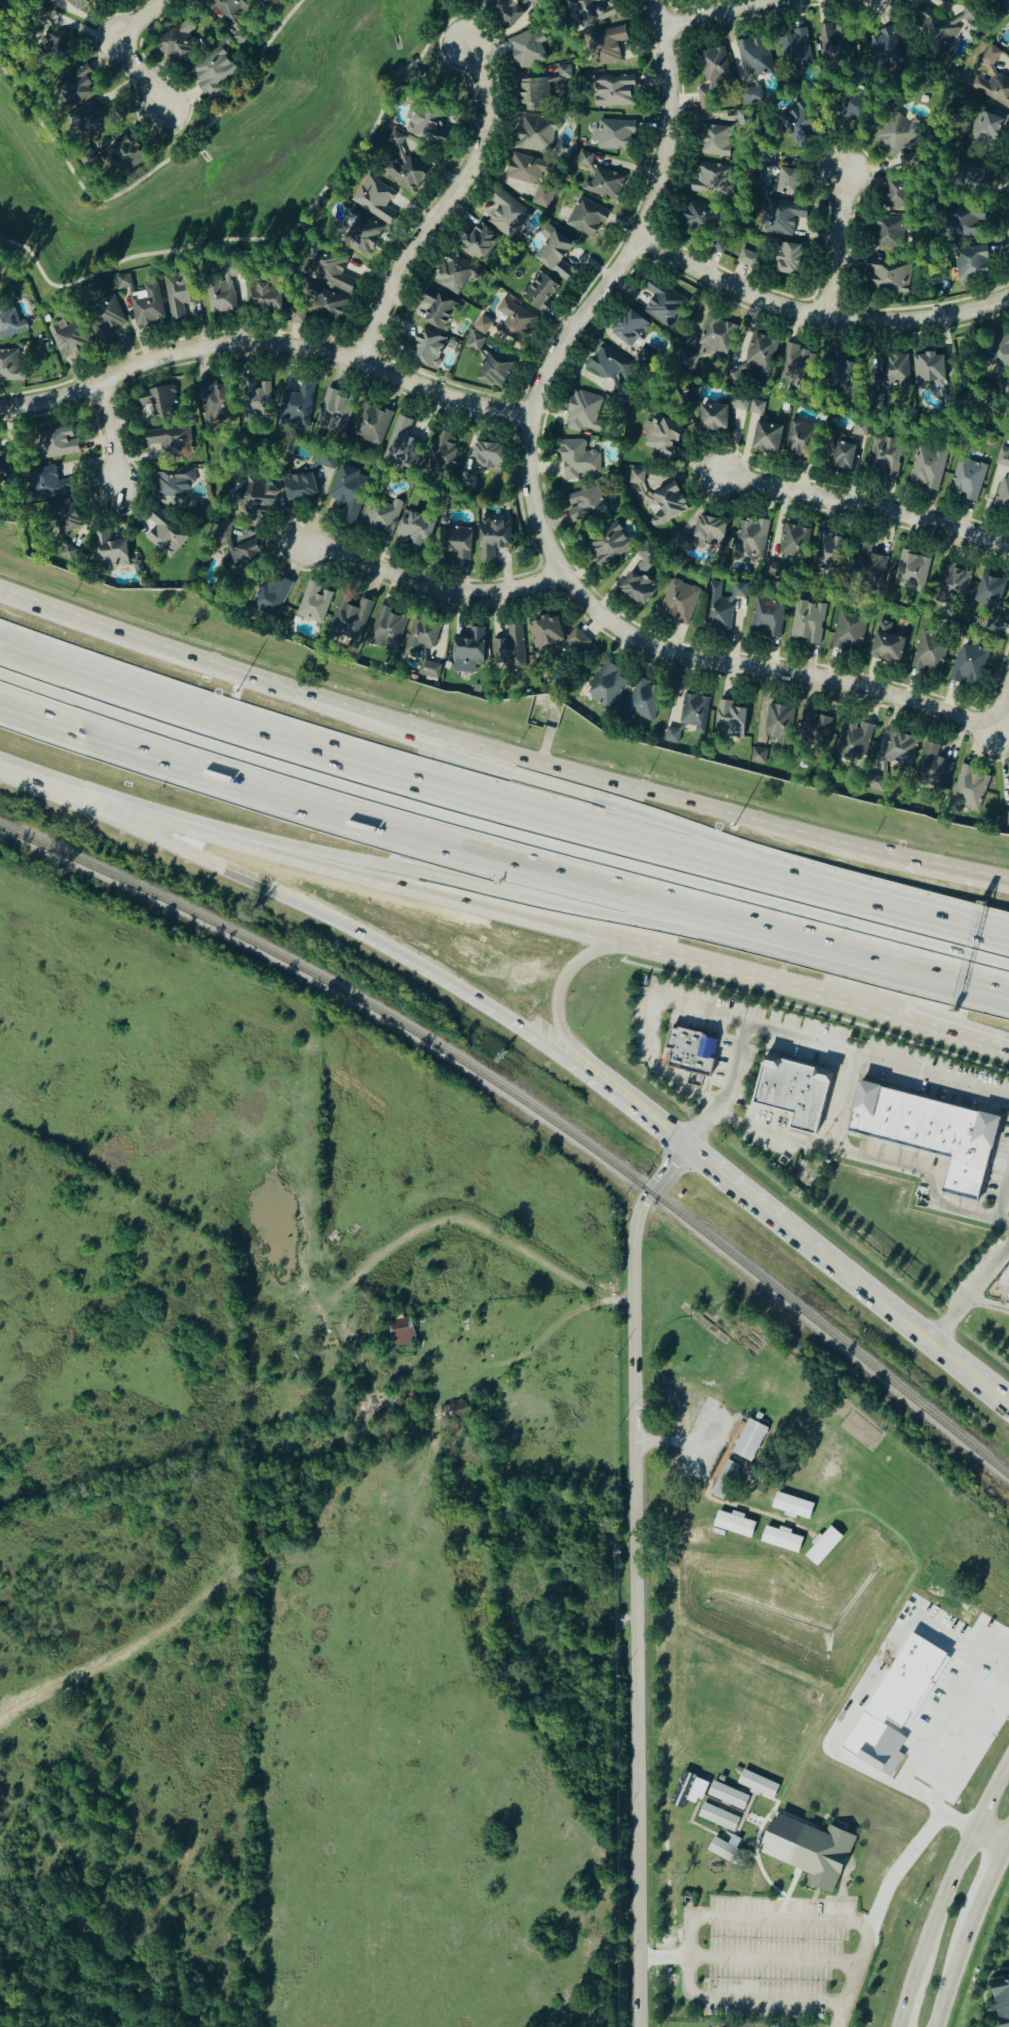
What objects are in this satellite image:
building: (482, 0)
building: (49, 2)
building: (77, 4)
building: (505, 11)
building: (594, 11)
road: (713, 13)
building: (232, 15)
building: (39, 16)
building: (935, 27)
building: (833, 42)
building: (62, 45)
building: (175, 46)
building: (604, 47)
road: (122, 48)
building: (794, 48)
building: (883, 48)
building: (526, 49)
building: (753, 57)
building: (212, 72)
building: (712, 78)
park: (437, 79)
building: (991, 80)
building: (75, 87)
building: (613, 94)
building: (535, 95)
building: (751, 96)
building: (853, 109)
building: (742, 117)
building: (91, 122)
building: (800, 125)
building: (424, 126)
building: (986, 127)
building: (535, 133)
building: (615, 135)
building: (893, 135)
building: (713, 141)
building: (125, 156)
building: (401, 165)
building: (968, 175)
building: (531, 177)
building: (709, 182)
building: (788, 182)
building: (603, 184)
building: (894, 193)
building: (374, 200)
road: (442, 209)
building: (506, 214)
building: (779, 217)
building: (585, 218)
building: (698, 218)
road: (647, 221)
building: (962, 222)
building: (887, 233)
building: (360, 234)
building: (478, 242)
building: (719, 245)
road: (840, 245)
building: (555, 257)
building: (748, 258)
building: (786, 260)
building: (971, 264)
building: (330, 270)
building: (453, 275)
building: (887, 276)
building: (220, 287)
building: (538, 292)
building: (179, 295)
building: (264, 297)
building: (323, 303)
building: (664, 304)
building: (148, 307)
building: (437, 310)
building: (296, 315)
building: (103, 318)
road: (816, 318)
building: (8, 322)
building: (514, 322)
building: (483, 325)
building: (628, 328)
building: (716, 337)
building: (68, 339)
building: (475, 342)
road: (264, 345)
building: (423, 349)
building: (759, 354)
building: (997, 354)
building: (643, 358)
building: (683, 359)
building: (11, 365)
building: (609, 365)
building: (796, 368)
building: (928, 369)
building: (493, 371)
building: (843, 371)
building: (893, 372)
building: (619, 394)
building: (255, 399)
building: (214, 400)
building: (157, 404)
building: (747, 406)
building: (295, 407)
building: (334, 413)
building: (582, 413)
building: (712, 418)
building: (371, 424)
road: (118, 438)
building: (766, 438)
building: (662, 439)
building: (801, 441)
building: (57, 443)
building: (169, 443)
building: (400, 444)
building: (839, 451)
building: (440, 455)
building: (486, 456)
building: (884, 457)
building: (577, 460)
building: (5, 467)
building: (927, 467)
building: (966, 480)
building: (173, 482)
building: (1002, 482)
building: (48, 483)
building: (299, 487)
building: (348, 496)
road: (869, 498)
building: (255, 499)
building: (656, 499)
building: (584, 504)
building: (190, 507)
building: (379, 517)
building: (64, 518)
building: (164, 531)
building: (415, 531)
building: (708, 531)
building: (222, 532)
building: (492, 538)
building: (456, 541)
building: (750, 541)
building: (792, 543)
building: (608, 547)
building: (109, 551)
building: (829, 553)
building: (647, 555)
building: (245, 561)
building: (865, 565)
building: (778, 567)
building: (910, 571)
building: (952, 585)
building: (636, 588)
road: (436, 589)
building: (989, 592)
building: (270, 598)
building: (678, 602)
building: (313, 603)
building: (721, 606)
building: (767, 615)
building: (349, 620)
building: (807, 623)
building: (993, 623)
building: (386, 630)
building: (848, 632)
building: (903, 632)
building: (554, 635)
building: (885, 644)
building: (420, 647)
building: (468, 649)
building: (508, 650)
building: (928, 652)
road: (192, 655)
road: (686, 663)
building: (968, 665)
building: (604, 686)
building: (643, 701)
road: (1001, 703)
building: (692, 712)
building: (729, 720)
building: (778, 727)
building: (813, 731)
building: (671, 737)
building: (853, 742)
building: (899, 751)
building: (758, 756)
road: (361, 763)
building: (932, 768)
road: (44, 782)
road: (621, 783)
road: (559, 787)
building: (968, 789)
building: (1007, 818)
road: (163, 820)
road: (411, 826)
road: (933, 863)
road: (223, 867)
road: (438, 891)
road: (533, 898)
road: (869, 900)
road: (920, 961)
road: (563, 981)
road: (769, 981)
road: (470, 995)
road: (653, 1020)
road: (954, 1037)
road: (811, 1040)
building: (688, 1052)
building: (792, 1090)
road: (844, 1099)
road: (631, 1104)
railway: (533, 1108)
building: (927, 1131)
road: (877, 1159)
road: (731, 1181)
road: (1004, 1199)
road: (483, 1231)
building: (1007, 1293)
road: (970, 1295)
road: (988, 1304)
road: (892, 1310)
building: (401, 1332)
railway: (511, 1342)
road: (543, 1345)
building: (454, 1410)
road: (667, 1440)
building: (751, 1440)
building: (726, 1479)
building: (793, 1505)
building: (735, 1524)
building: (782, 1539)
building: (825, 1546)
road: (636, 1578)
road: (852, 1706)
building: (722, 1778)
building: (759, 1784)
building: (688, 1790)
building: (728, 1795)
building: (719, 1817)
road: (992, 1840)
building: (811, 1850)
building: (729, 1852)
road: (955, 1871)
road: (900, 1874)
road: (995, 1881)
road: (699, 1917)
building: (1007, 1933)
road: (773, 1959)
road: (962, 1969)
building: (1001, 2000)
road: (906, 2005)
road: (842, 2015)

